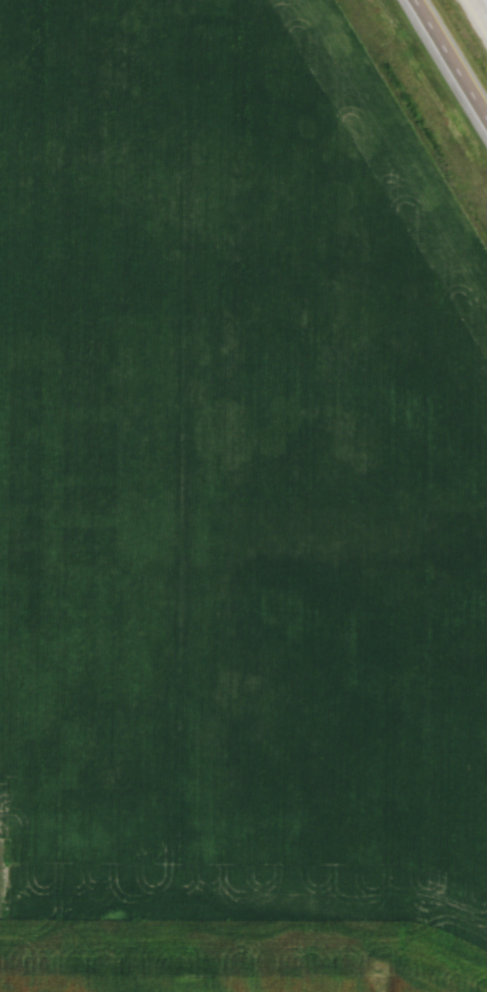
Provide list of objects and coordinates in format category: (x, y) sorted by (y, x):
road: (481, 9)
road: (448, 63)

